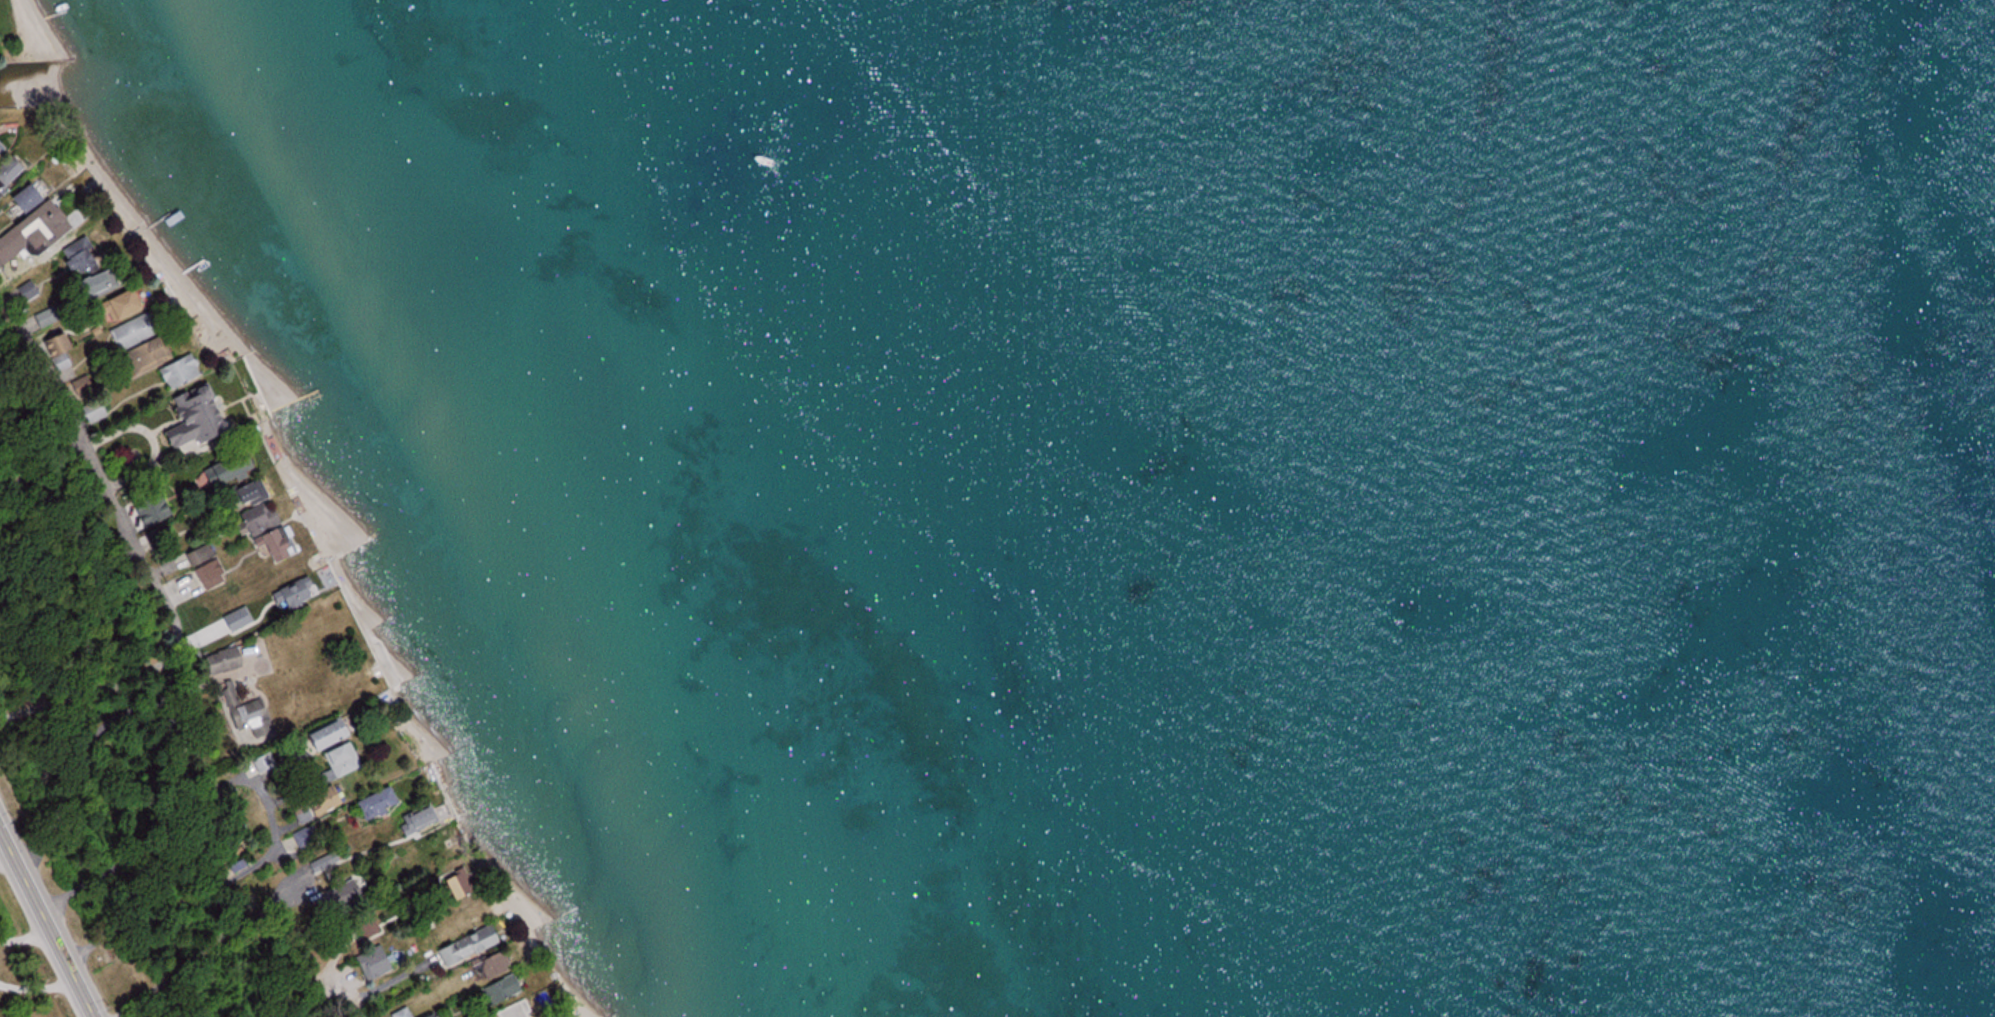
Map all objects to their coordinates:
building: (5, 174)
building: (20, 198)
building: (36, 223)
building: (76, 257)
building: (92, 285)
building: (25, 292)
building: (114, 305)
building: (137, 345)
building: (56, 347)
building: (175, 372)
building: (92, 413)
building: (186, 420)
building: (220, 471)
building: (146, 511)
building: (259, 532)
road: (144, 559)
building: (204, 568)
building: (288, 595)
building: (228, 619)
building: (219, 663)
building: (246, 716)
building: (321, 737)
building: (337, 761)
building: (371, 804)
building: (309, 807)
building: (414, 822)
building: (323, 865)
building: (454, 885)
road: (47, 923)
building: (366, 927)
road: (24, 934)
building: (463, 947)
building: (371, 965)
building: (496, 992)
building: (515, 1010)
building: (401, 1014)
building: (427, 1016)

